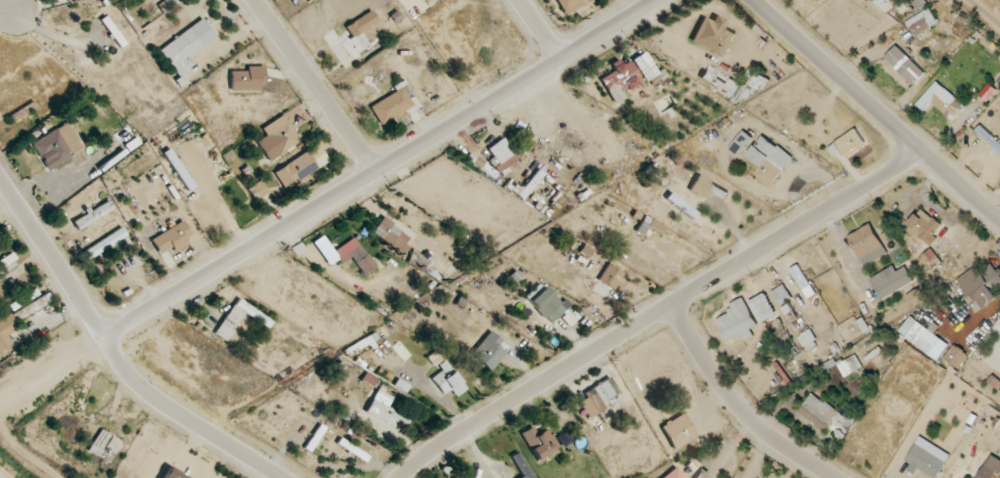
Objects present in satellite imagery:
building: (571, 5)
building: (894, 5)
road: (984, 11)
road: (7, 16)
building: (922, 21)
road: (538, 31)
building: (360, 34)
building: (714, 36)
building: (183, 50)
building: (905, 64)
building: (629, 75)
building: (247, 78)
building: (718, 83)
road: (312, 87)
building: (942, 101)
building: (391, 105)
road: (875, 110)
building: (283, 137)
building: (848, 144)
building: (58, 145)
building: (502, 155)
building: (766, 161)
building: (296, 169)
road: (384, 169)
building: (711, 186)
building: (258, 189)
building: (237, 190)
building: (207, 217)
building: (926, 227)
building: (172, 238)
building: (398, 242)
building: (105, 243)
building: (868, 244)
building: (359, 258)
building: (8, 262)
building: (611, 276)
building: (803, 281)
building: (978, 286)
building: (781, 294)
building: (548, 304)
building: (763, 307)
road: (659, 311)
building: (789, 313)
building: (460, 316)
building: (739, 321)
building: (229, 322)
building: (924, 337)
building: (808, 340)
building: (489, 351)
road: (111, 356)
building: (858, 361)
road: (50, 371)
building: (446, 376)
building: (598, 396)
road: (737, 405)
building: (387, 410)
building: (825, 414)
building: (679, 431)
building: (540, 443)
building: (925, 462)
building: (522, 466)
building: (676, 473)

